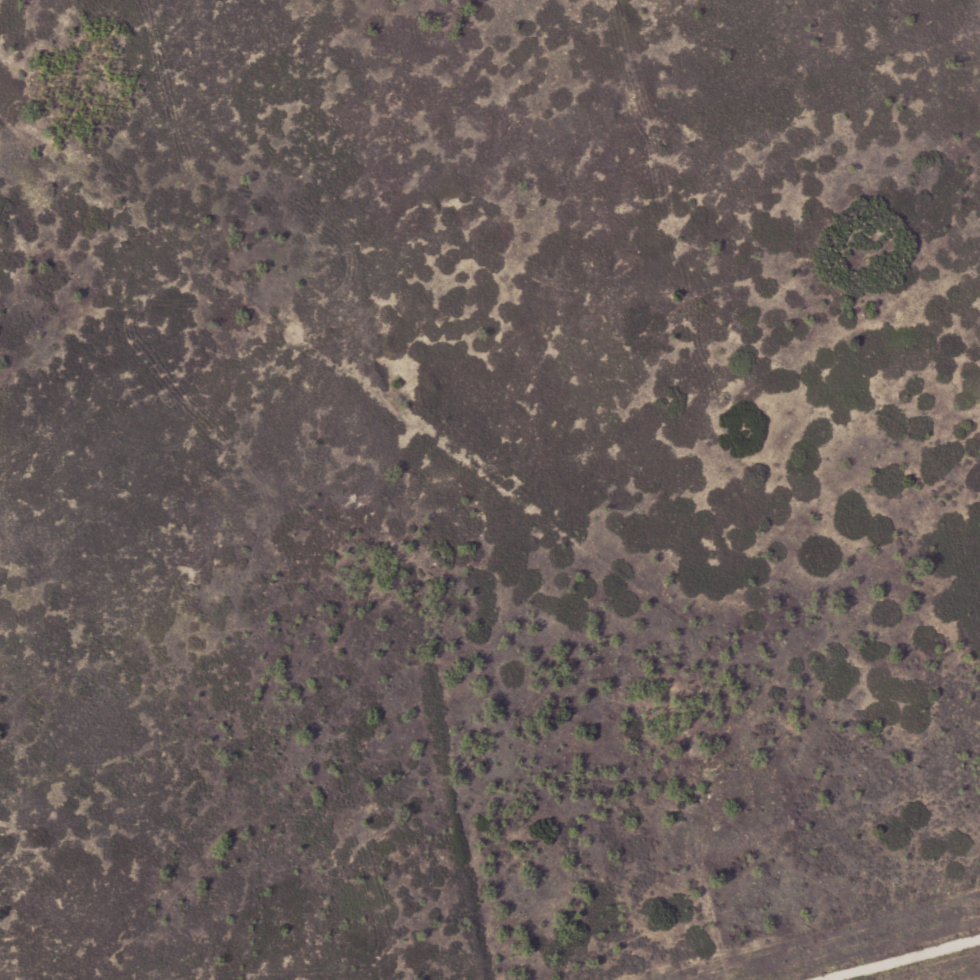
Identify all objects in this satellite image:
road: (721, 886)

